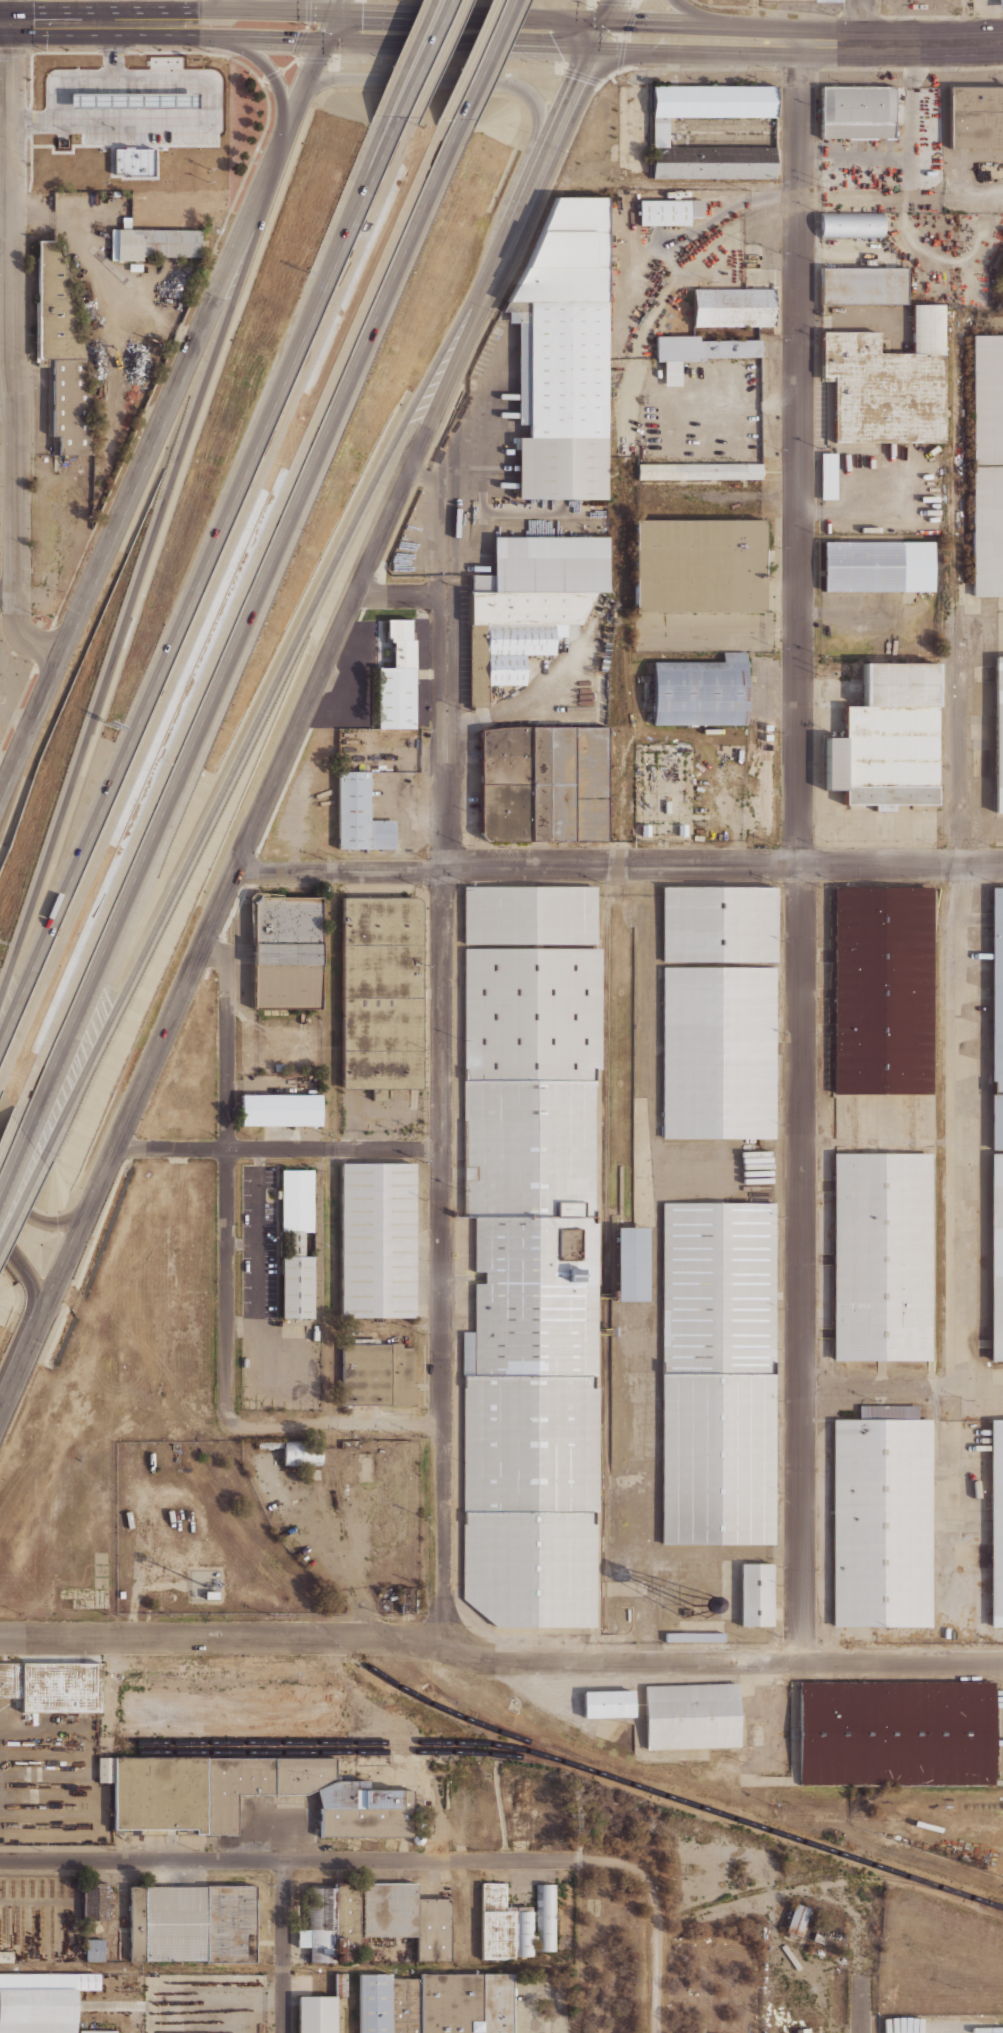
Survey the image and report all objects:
building: (827, 1)
building: (1000, 4)
road: (263, 10)
road: (10, 11)
road: (99, 11)
road: (224, 11)
road: (700, 19)
road: (860, 21)
road: (116, 22)
road: (5, 23)
traffic signals: (10, 23)
traffic signals: (332, 26)
road: (413, 29)
traffic signals: (605, 36)
road: (803, 42)
road: (628, 59)
road: (404, 61)
road: (479, 63)
road: (429, 64)
road: (311, 76)
road: (274, 78)
road: (461, 81)
road: (220, 114)
building: (857, 114)
road: (562, 116)
building: (976, 120)
building: (660, 131)
building: (92, 133)
building: (670, 211)
building: (851, 225)
building: (153, 242)
building: (864, 285)
road: (317, 297)
building: (732, 307)
road: (850, 322)
road: (10, 351)
building: (697, 351)
building: (63, 352)
building: (567, 354)
building: (525, 364)
building: (888, 382)
road: (169, 405)
railway: (625, 441)
building: (987, 465)
building: (700, 470)
building: (828, 475)
building: (700, 565)
building: (878, 565)
road: (143, 575)
road: (8, 594)
road: (202, 594)
road: (401, 595)
building: (529, 603)
road: (242, 633)
building: (397, 676)
parking lot: (11, 682)
building: (700, 691)
road: (268, 694)
road: (29, 725)
building: (999, 734)
building: (889, 740)
road: (273, 781)
building: (541, 784)
building: (360, 814)
building: (645, 829)
building: (681, 829)
road: (798, 852)
road: (618, 864)
building: (719, 923)
building: (286, 951)
building: (883, 990)
building: (382, 992)
building: (997, 1017)
building: (718, 1052)
building: (281, 1109)
road: (441, 1120)
road: (278, 1147)
road: (10, 1158)
road: (226, 1179)
road: (19, 1200)
road: (37, 1220)
building: (378, 1240)
building: (297, 1243)
building: (531, 1253)
building: (882, 1257)
building: (997, 1257)
building: (633, 1264)
road: (29, 1276)
road: (18, 1368)
building: (718, 1373)
building: (378, 1374)
road: (337, 1426)
building: (303, 1452)
building: (882, 1518)
building: (997, 1523)
building: (757, 1595)
building: (407, 1600)
water tower: (694, 1606)
building: (694, 1637)
road: (499, 1661)
building: (53, 1686)
building: (608, 1703)
building: (230, 1711)
building: (692, 1716)
building: (897, 1732)
railway: (516, 1738)
railway: (507, 1756)
railway: (566, 1764)
building: (246, 1794)
railway: (846, 1853)
road: (322, 1859)
railway: (822, 1878)
building: (96, 1900)
railway: (988, 1903)
building: (375, 1919)
building: (796, 1920)
building: (516, 1922)
building: (193, 1923)
building: (818, 1935)
road: (283, 1946)
building: (95, 1950)
road: (654, 1950)
building: (6, 1956)
building: (42, 2001)
building: (436, 2003)
road: (861, 2008)
building: (321, 2009)
building: (98, 2031)

